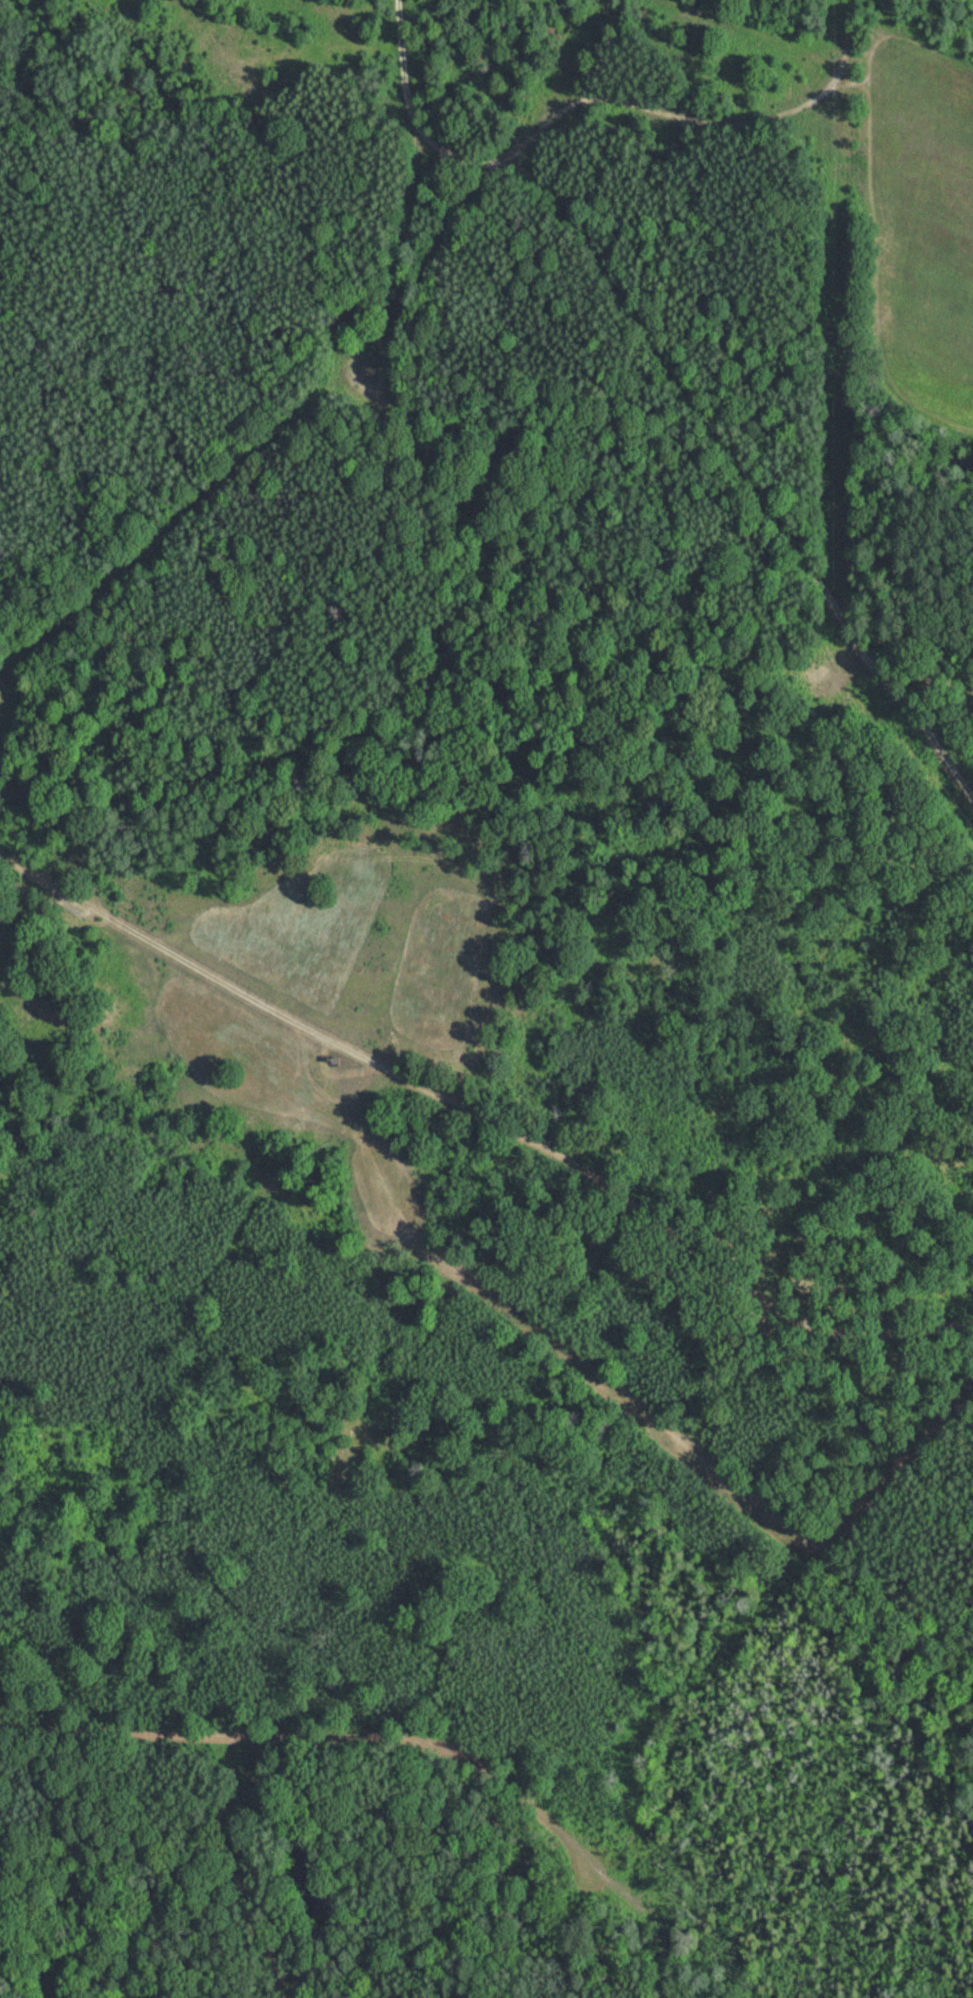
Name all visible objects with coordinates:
road: (703, 147)
road: (405, 243)
road: (674, 427)
road: (487, 1119)
road: (339, 1787)

